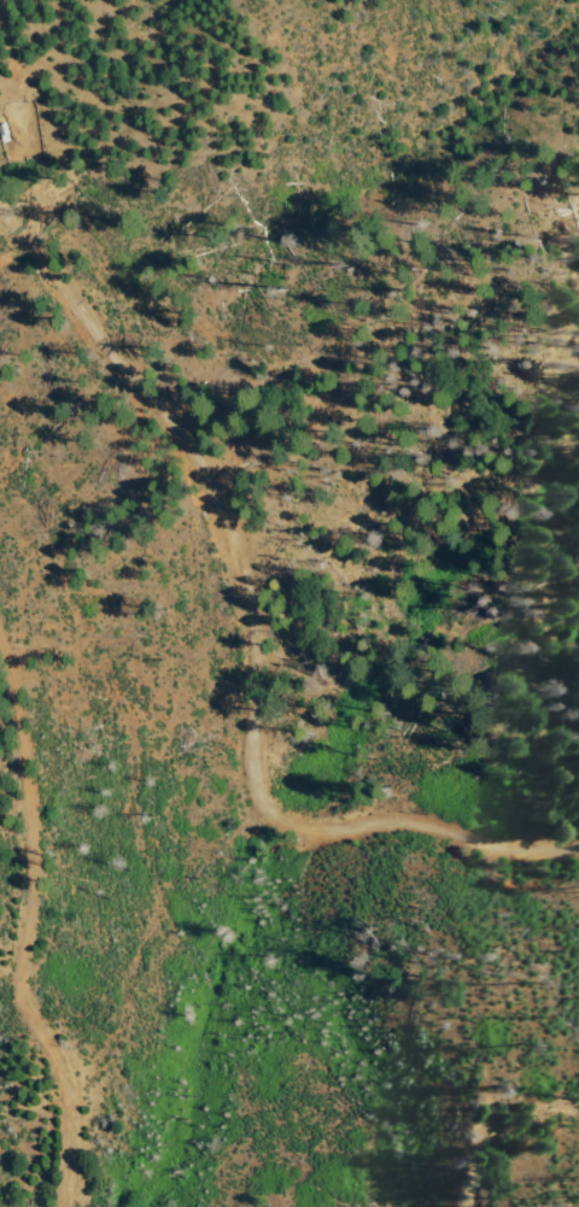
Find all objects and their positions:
building: (5, 135)
road: (289, 414)
road: (241, 650)
road: (33, 922)

